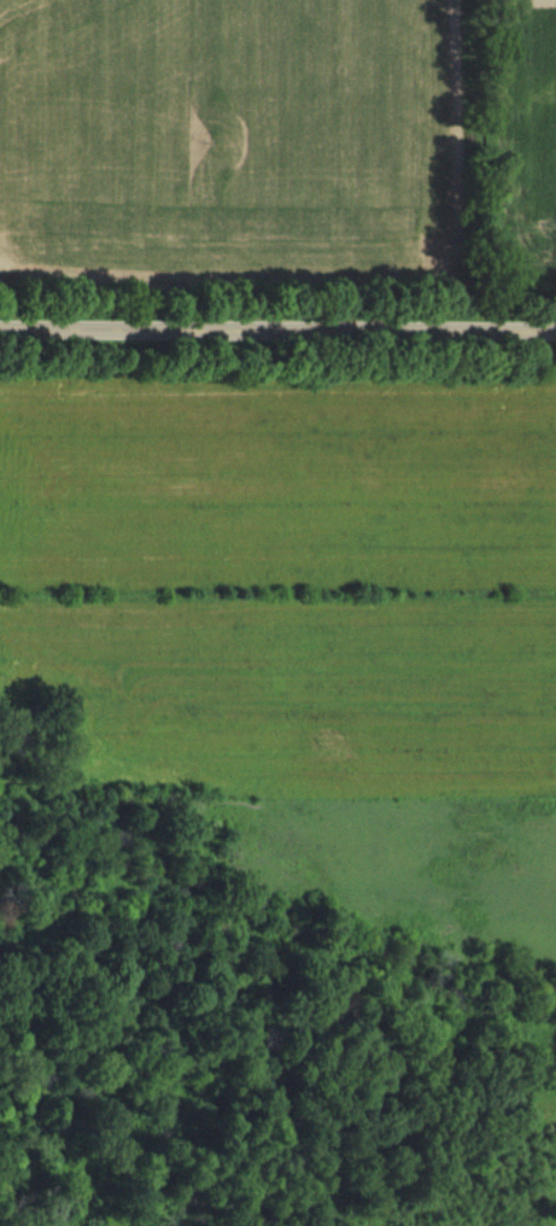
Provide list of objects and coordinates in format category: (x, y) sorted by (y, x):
road: (277, 325)

